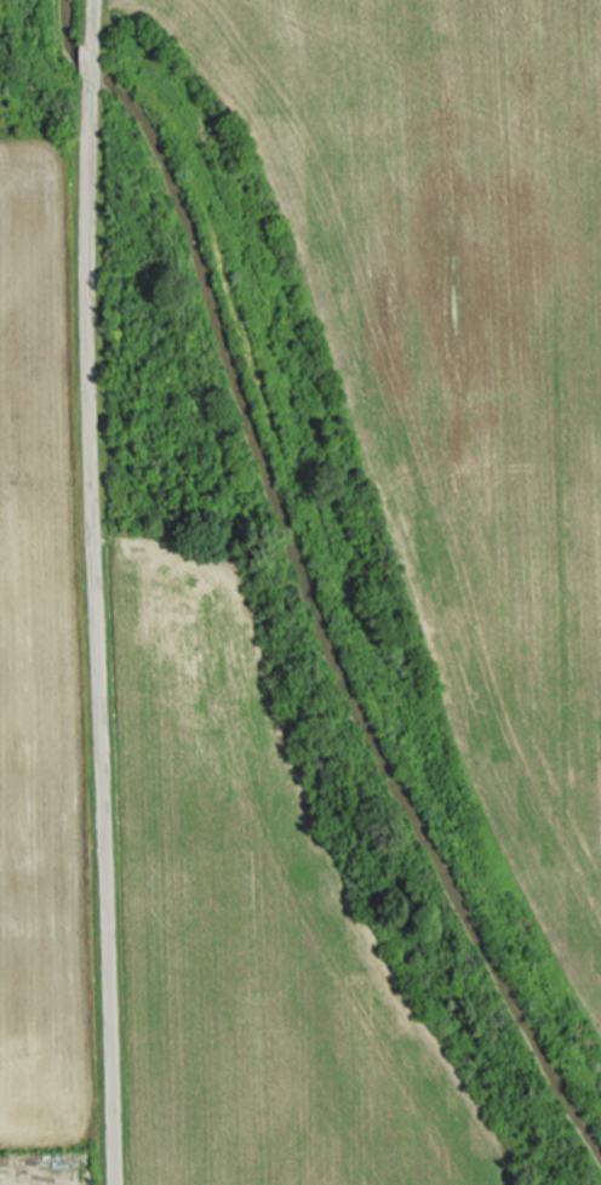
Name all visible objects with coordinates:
road: (98, 592)

